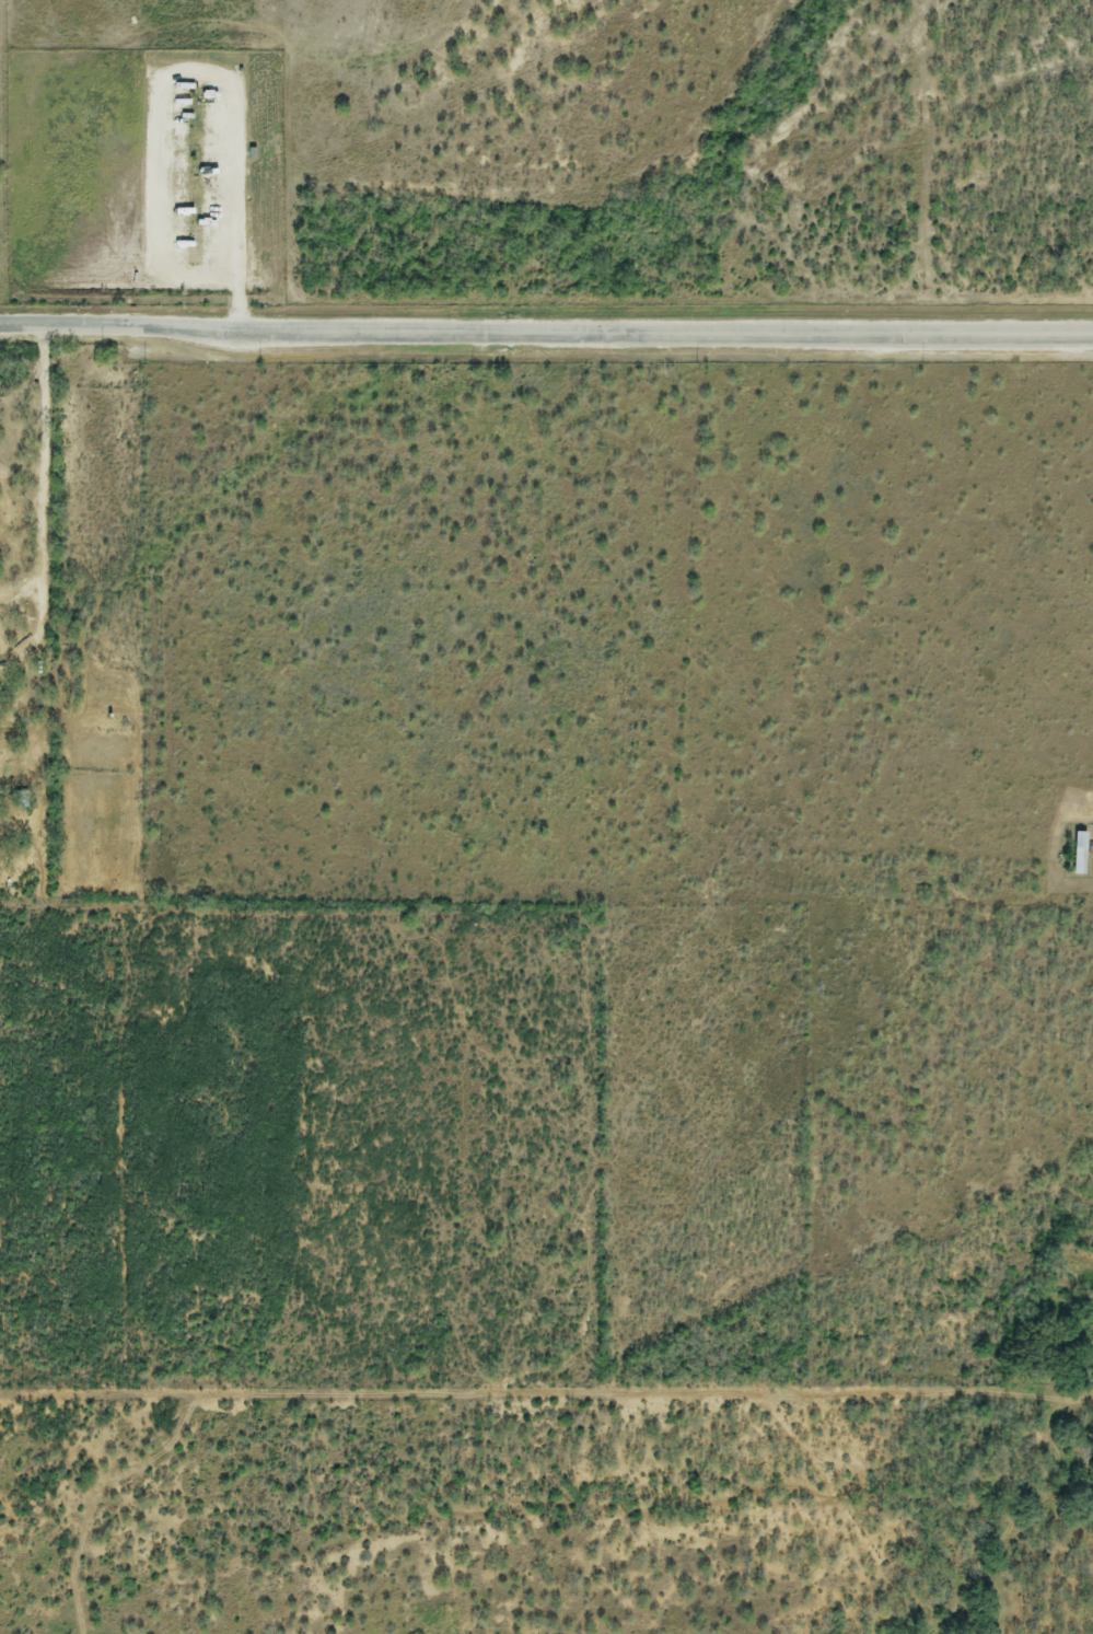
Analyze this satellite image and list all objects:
road: (189, 76)
road: (546, 329)
road: (42, 500)
building: (1080, 854)

